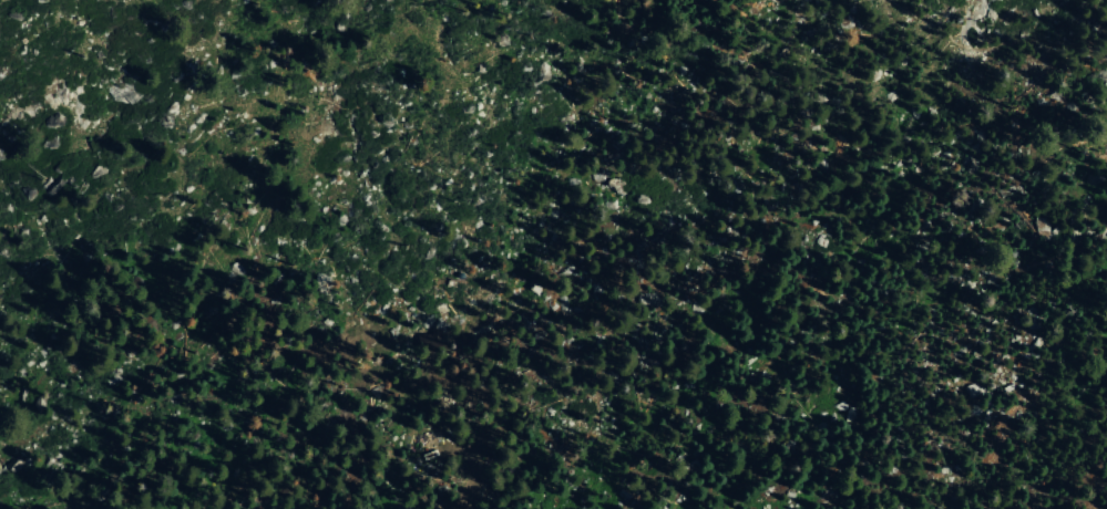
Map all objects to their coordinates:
road: (847, 2)
road: (985, 50)

